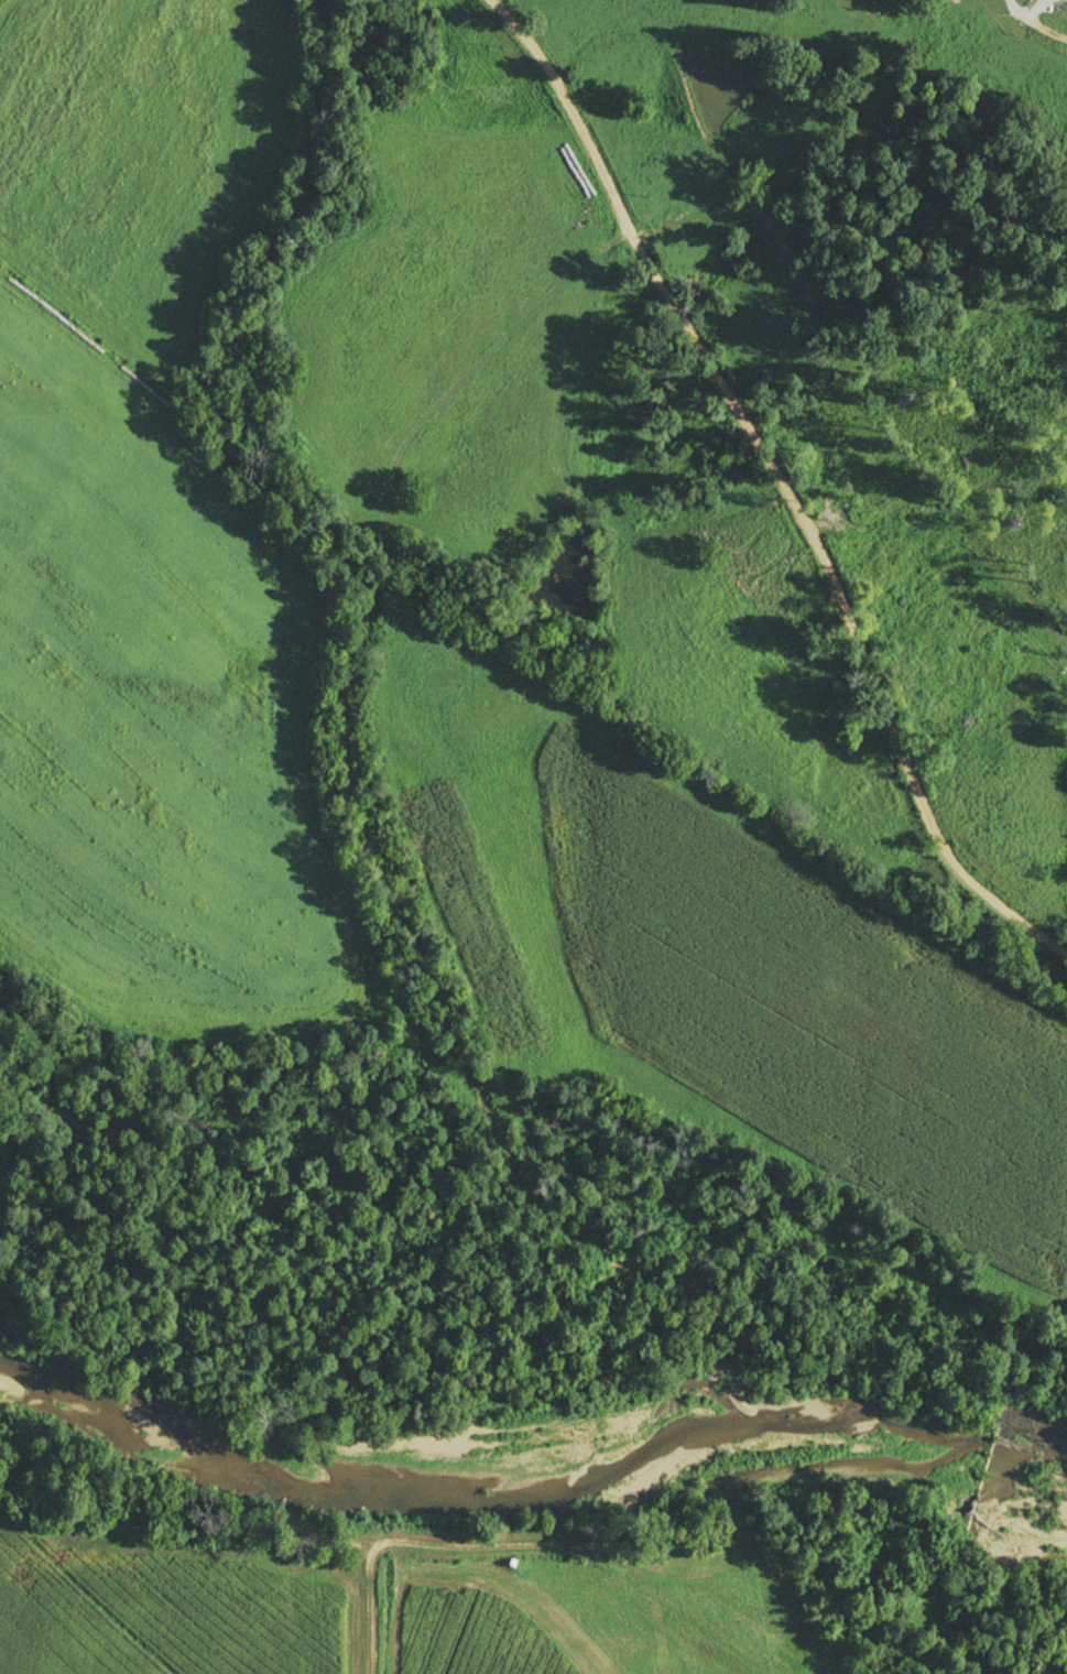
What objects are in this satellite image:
road: (777, 485)
river: (526, 1441)

